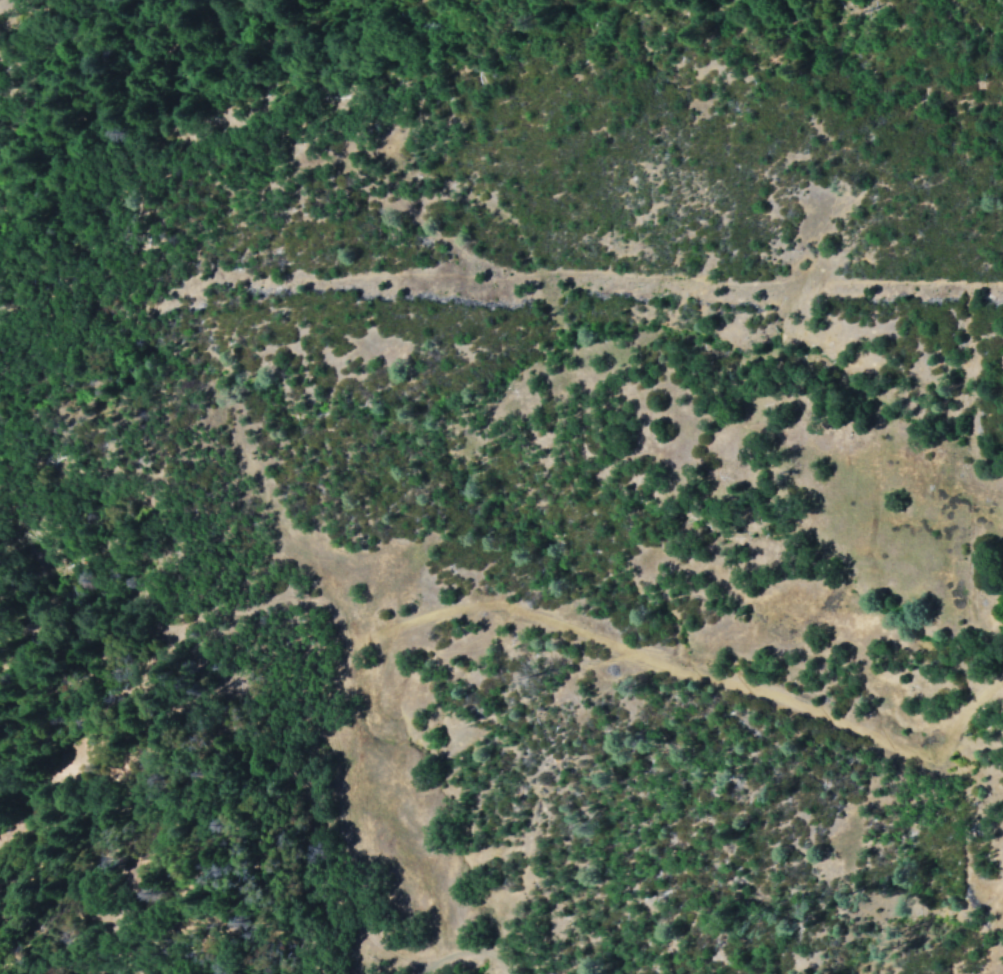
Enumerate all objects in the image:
road: (414, 924)

